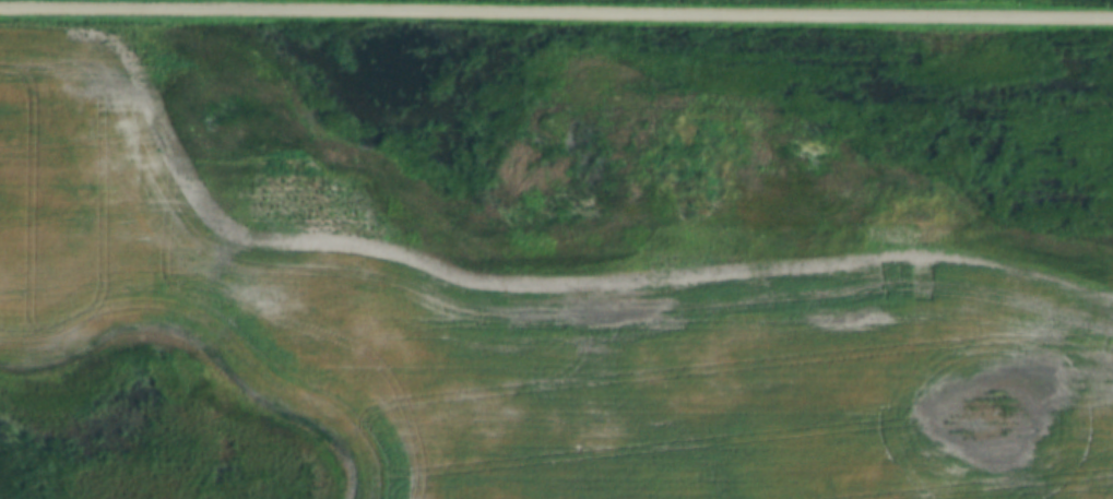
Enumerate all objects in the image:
road: (556, 15)

